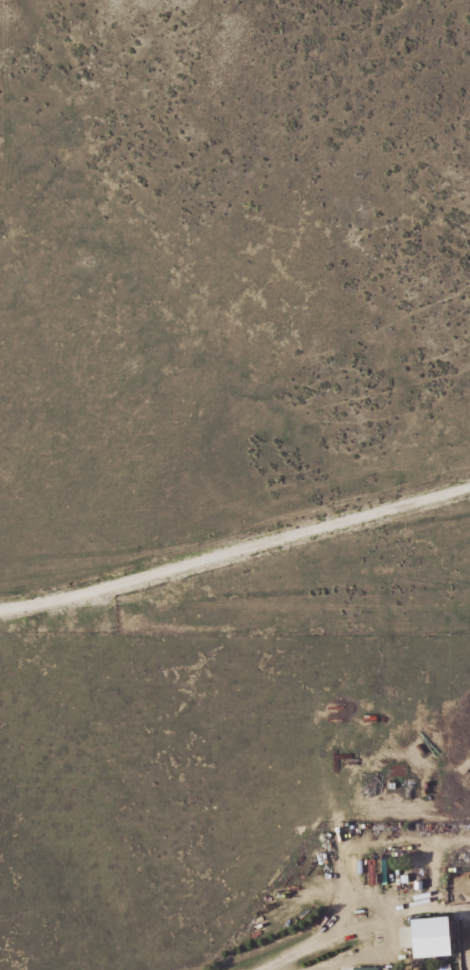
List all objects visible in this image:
road: (336, 964)

